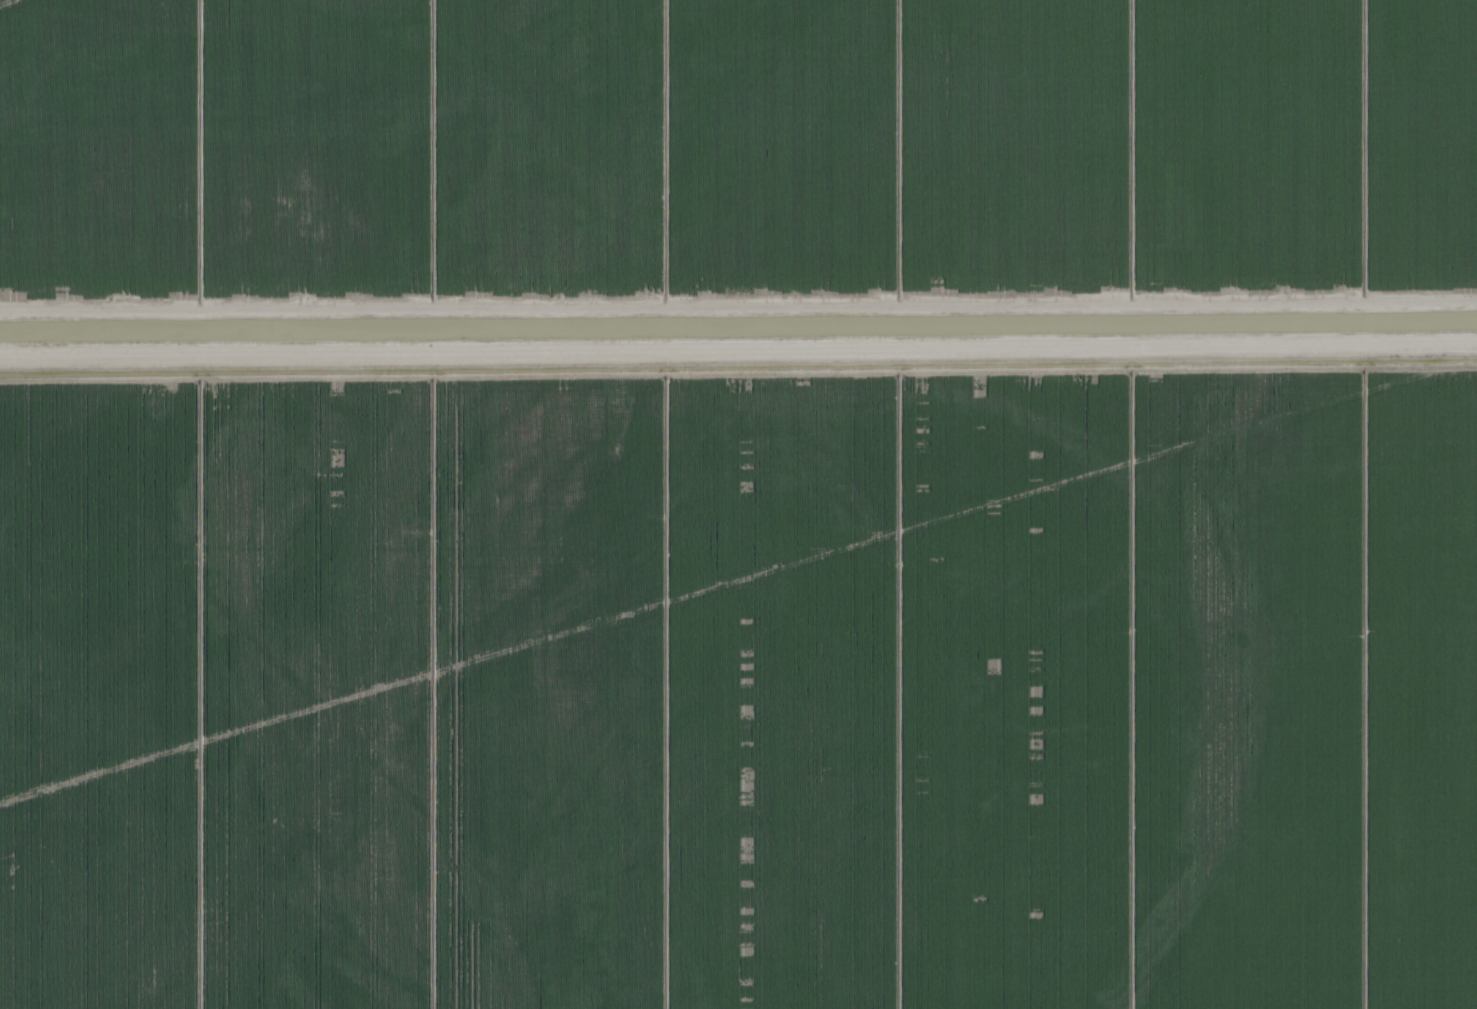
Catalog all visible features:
road: (738, 305)
road: (1357, 326)
road: (738, 353)

